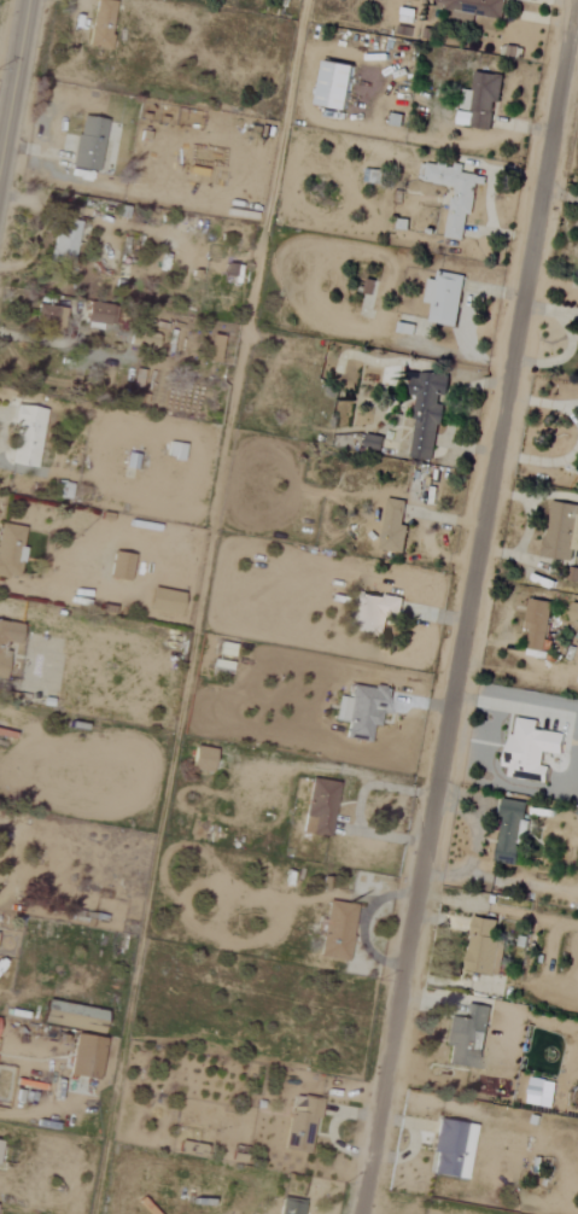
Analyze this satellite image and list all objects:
building: (472, 7)
building: (100, 23)
road: (13, 76)
building: (332, 83)
building: (87, 142)
building: (456, 194)
building: (443, 298)
building: (95, 313)
building: (48, 317)
building: (424, 413)
building: (25, 436)
building: (372, 442)
building: (174, 450)
building: (577, 473)
building: (392, 527)
building: (560, 531)
building: (10, 550)
building: (119, 566)
building: (163, 601)
road: (199, 606)
road: (468, 606)
building: (373, 612)
building: (573, 612)
building: (536, 623)
building: (6, 640)
building: (224, 648)
building: (361, 710)
building: (527, 749)
building: (200, 759)
building: (317, 807)
building: (509, 831)
road: (500, 909)
building: (335, 930)
building: (483, 947)
road: (495, 986)
building: (71, 1016)
building: (466, 1038)
building: (83, 1056)
building: (299, 1125)
building: (450, 1150)
building: (288, 1207)

